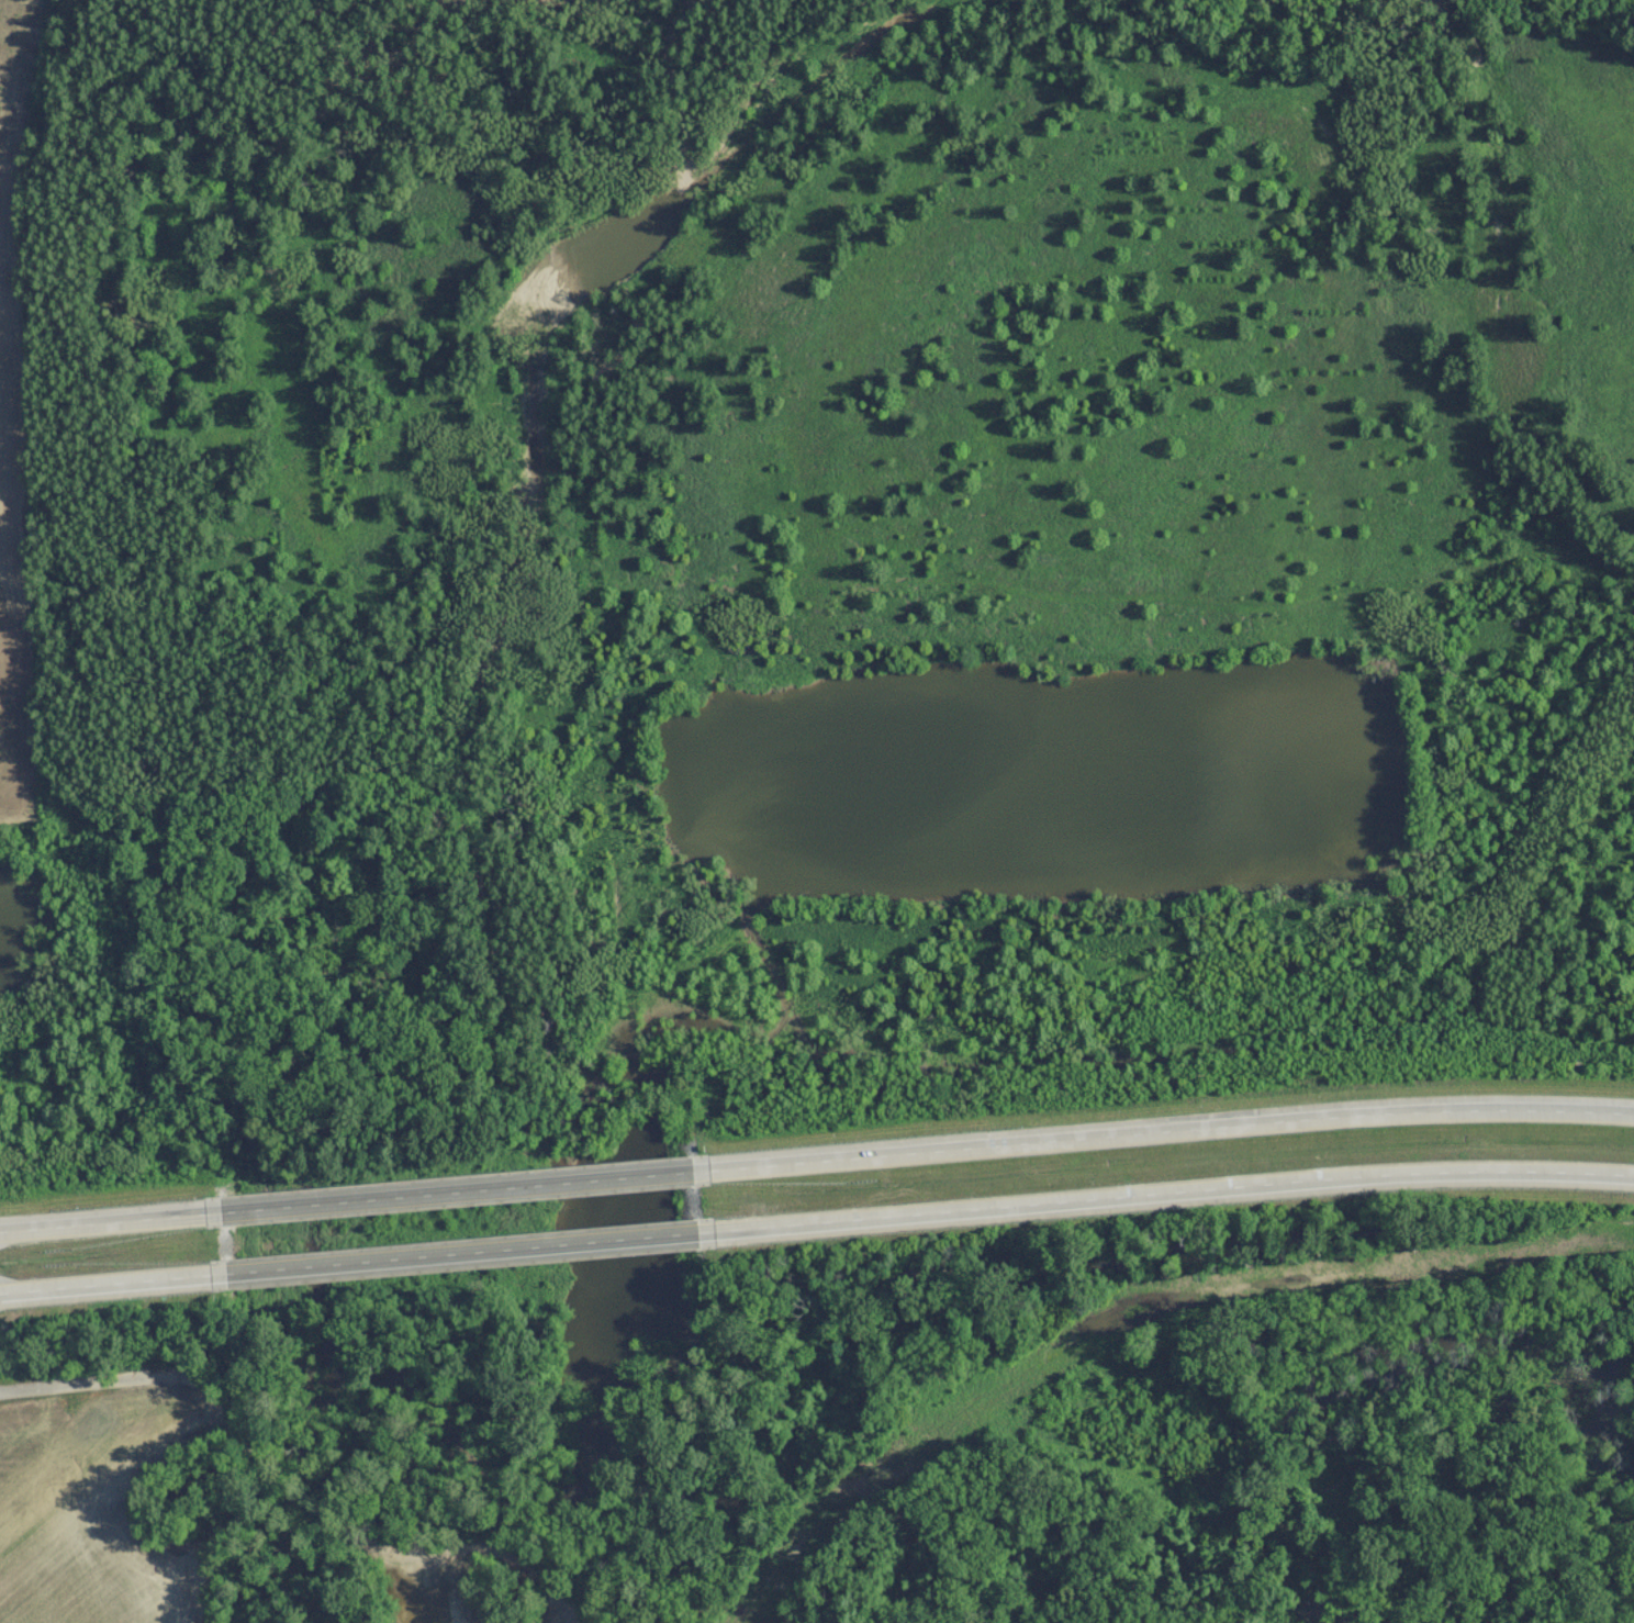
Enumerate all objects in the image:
road: (1161, 1130)
road: (1168, 1196)
road: (450, 1199)
road: (104, 1229)
road: (459, 1260)
road: (107, 1289)
road: (74, 1388)
road: (334, 1537)

